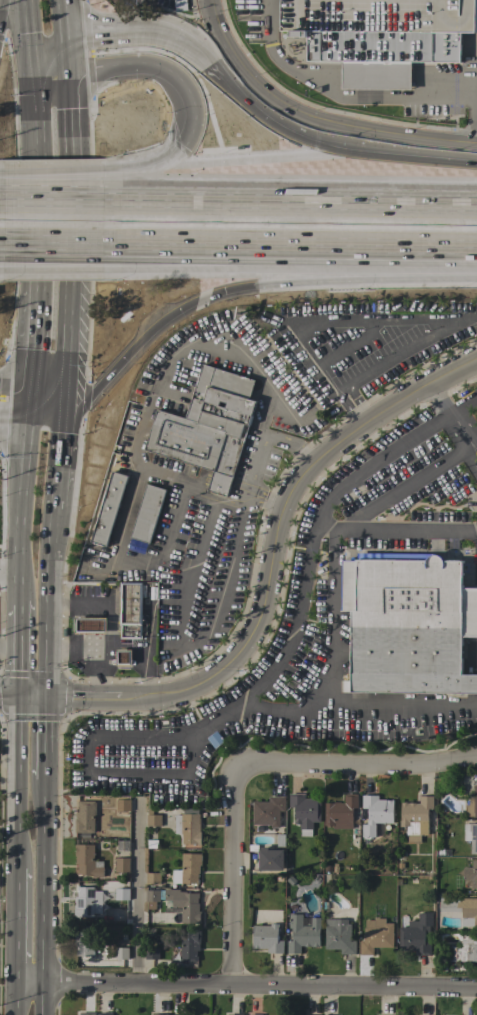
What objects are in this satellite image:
building: (180, 5)
road: (2, 11)
road: (63, 26)
road: (29, 30)
building: (380, 36)
road: (135, 43)
traffic signals: (66, 52)
road: (49, 56)
traffic signals: (32, 60)
road: (222, 92)
road: (340, 94)
road: (193, 98)
road: (89, 105)
road: (312, 119)
road: (476, 121)
road: (70, 136)
road: (34, 139)
road: (208, 147)
road: (295, 150)
road: (255, 167)
road: (415, 169)
road: (130, 174)
road: (54, 178)
road: (2, 181)
road: (2, 200)
road: (54, 202)
road: (290, 204)
railway: (238, 225)
road: (2, 241)
road: (54, 242)
road: (159, 242)
road: (345, 243)
road: (159, 251)
road: (35, 253)
road: (54, 261)
road: (1, 263)
road: (192, 295)
road: (71, 300)
road: (382, 322)
road: (22, 331)
road: (350, 344)
road: (31, 349)
road: (164, 374)
traffic signals: (67, 379)
road: (51, 401)
road: (13, 411)
traffic signals: (27, 412)
road: (454, 418)
building: (208, 426)
road: (260, 453)
road: (164, 475)
road: (186, 487)
road: (403, 488)
road: (215, 502)
road: (21, 506)
building: (109, 508)
building: (148, 513)
road: (279, 528)
road: (174, 531)
road: (50, 539)
road: (204, 540)
road: (9, 565)
road: (153, 566)
building: (131, 609)
road: (221, 616)
building: (90, 625)
building: (408, 625)
road: (340, 631)
road: (109, 634)
road: (76, 645)
road: (18, 649)
road: (9, 655)
building: (123, 657)
road: (100, 672)
road: (256, 693)
traffic signals: (17, 697)
road: (21, 697)
traffic signals: (42, 699)
road: (80, 700)
road: (277, 706)
road: (41, 740)
road: (368, 763)
road: (17, 783)
building: (472, 804)
building: (123, 805)
building: (268, 811)
building: (305, 812)
building: (341, 812)
building: (376, 813)
building: (85, 816)
building: (416, 817)
building: (152, 818)
building: (188, 826)
building: (471, 836)
building: (123, 845)
building: (271, 859)
building: (87, 861)
building: (122, 865)
road: (232, 868)
building: (188, 869)
building: (471, 873)
building: (153, 878)
building: (121, 894)
road: (136, 896)
road: (41, 898)
building: (87, 902)
building: (177, 902)
building: (461, 909)
road: (15, 924)
building: (303, 933)
building: (376, 935)
building: (416, 935)
building: (339, 936)
building: (267, 938)
building: (87, 942)
building: (190, 945)
building: (465, 948)
building: (121, 953)
building: (152, 953)
road: (245, 989)
road: (14, 997)
building: (105, 1013)
building: (87, 1014)
building: (160, 1014)
building: (178, 1014)
building: (235, 1014)
building: (252, 1014)
building: (314, 1014)
building: (334, 1014)

